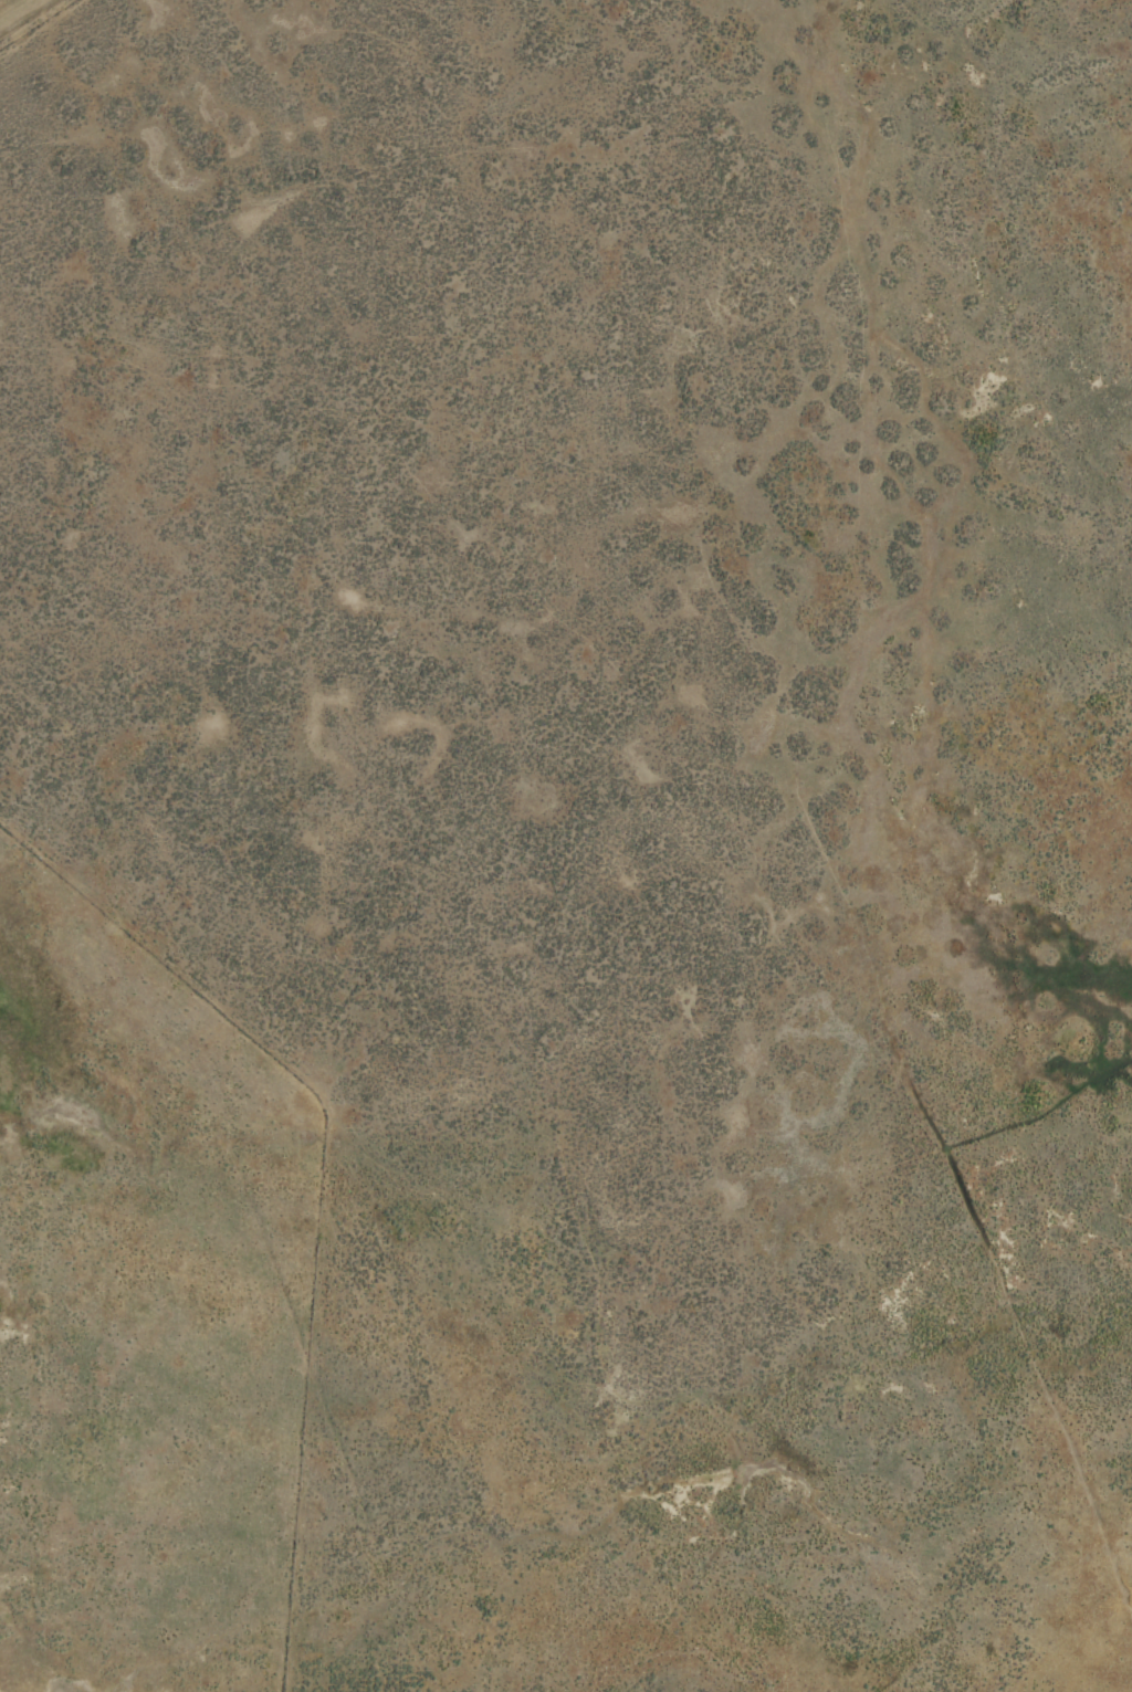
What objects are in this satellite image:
crop: (566, 845)

